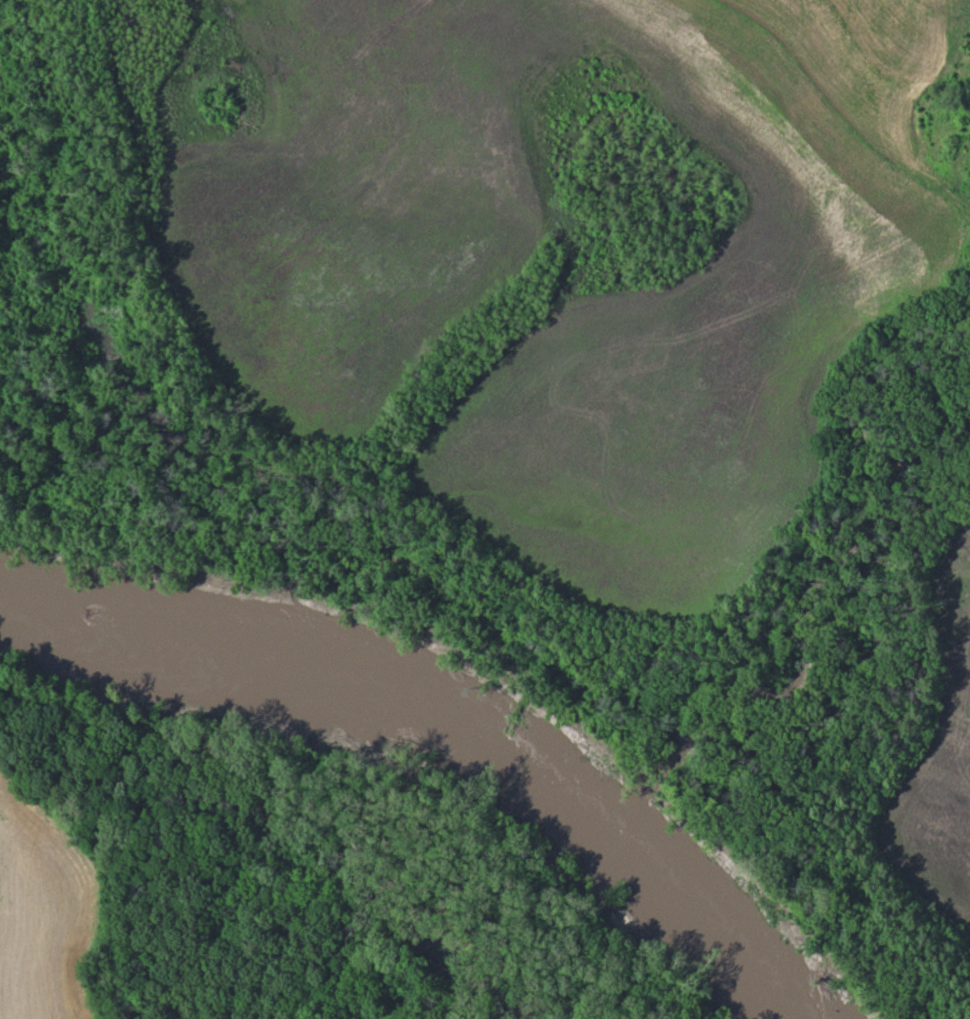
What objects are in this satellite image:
river: (441, 716)

